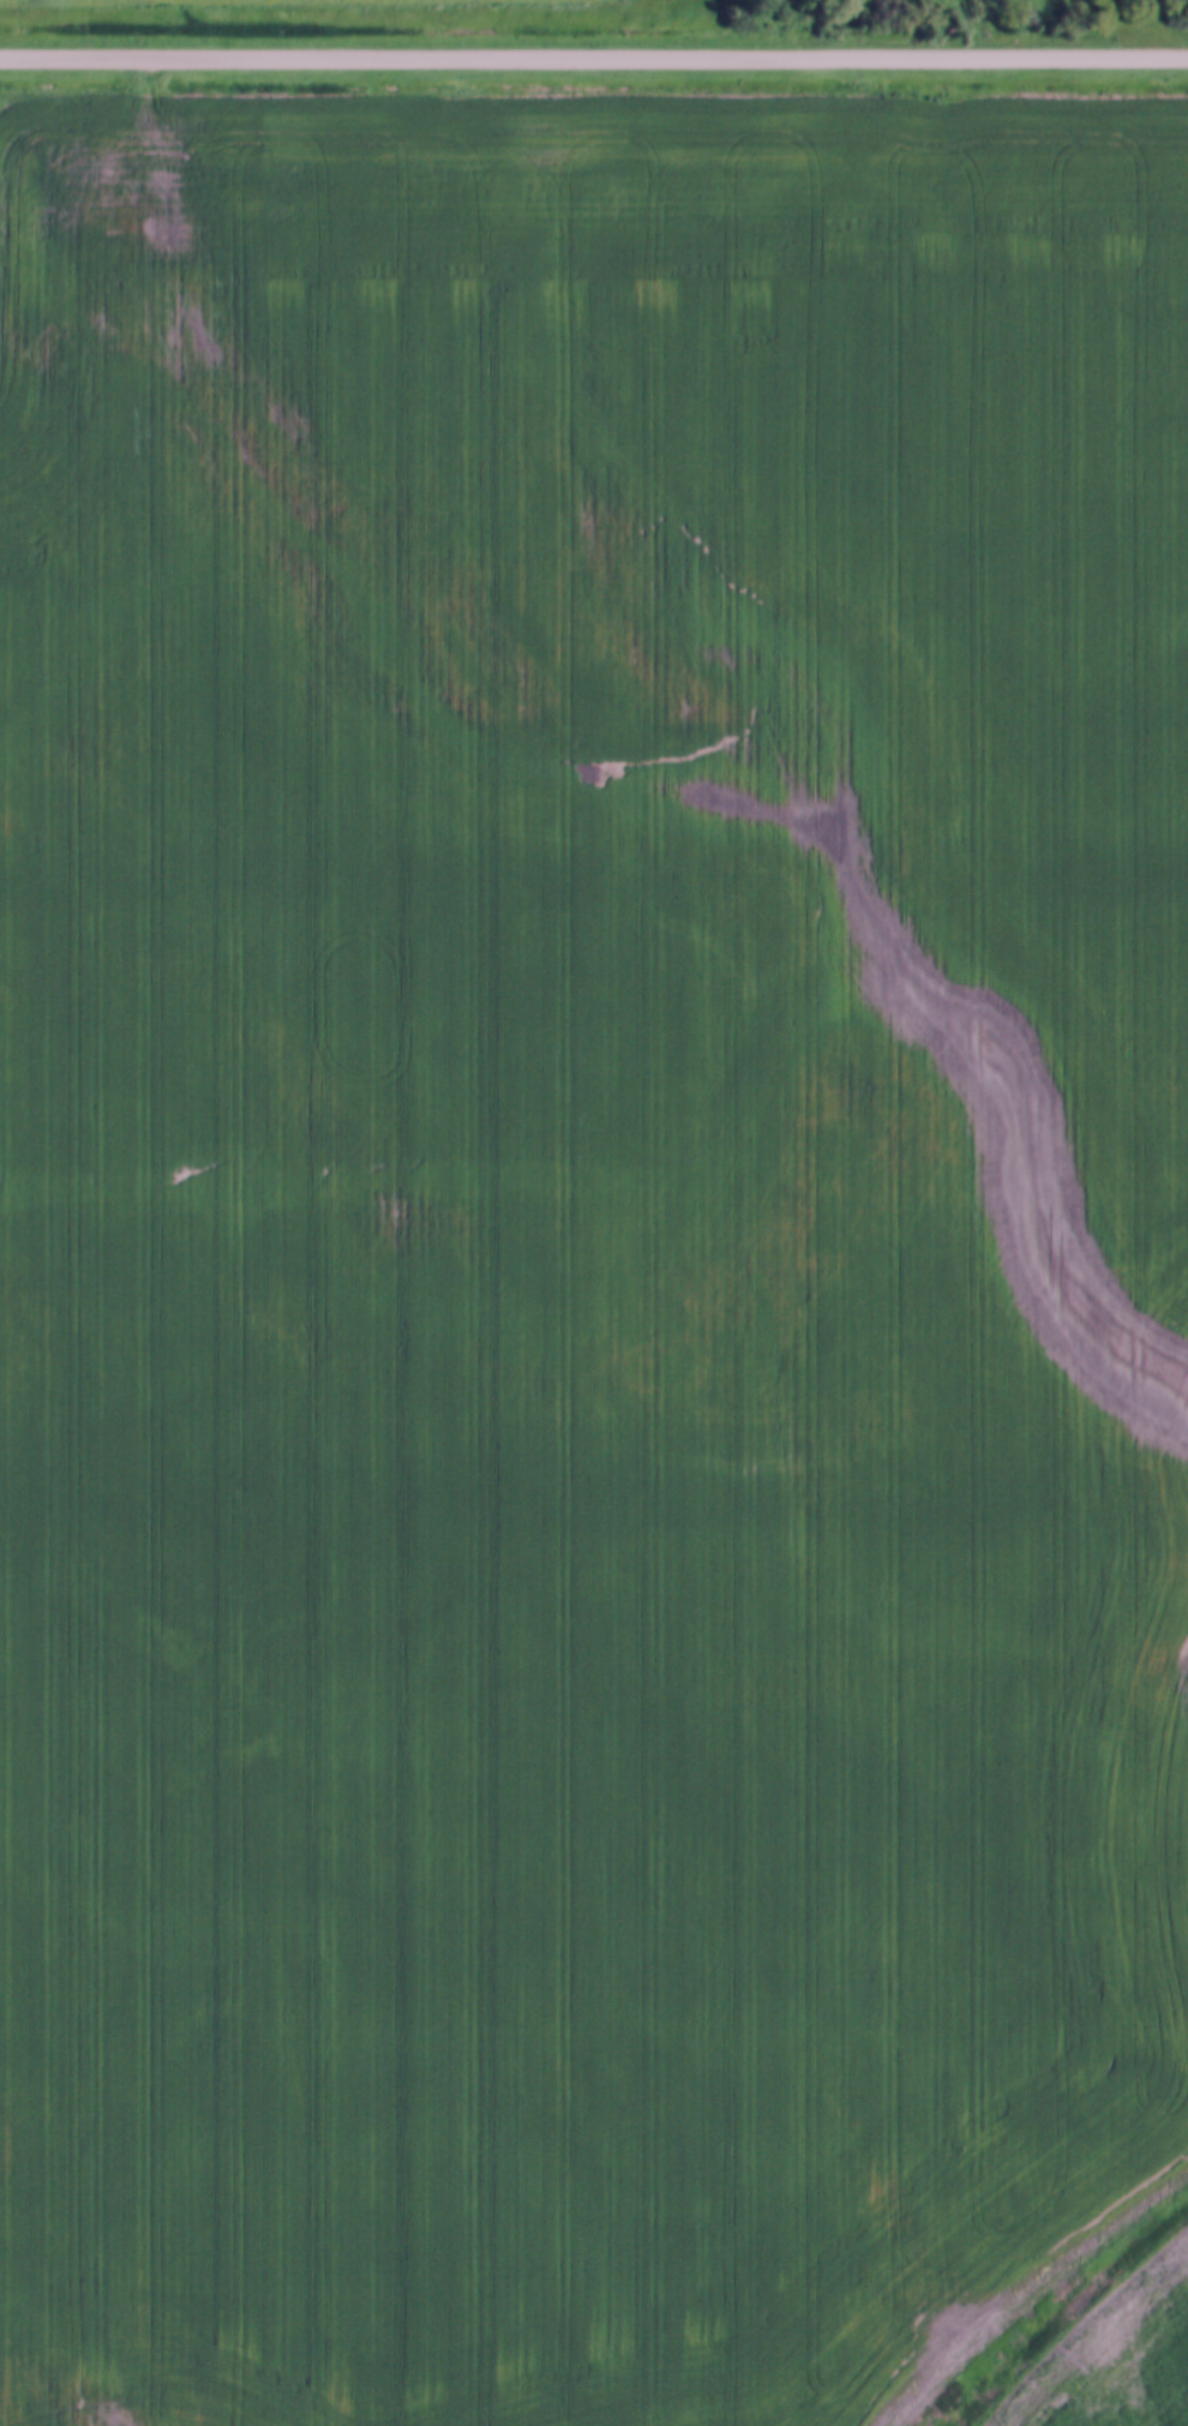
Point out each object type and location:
crop: (1156, 2394)

